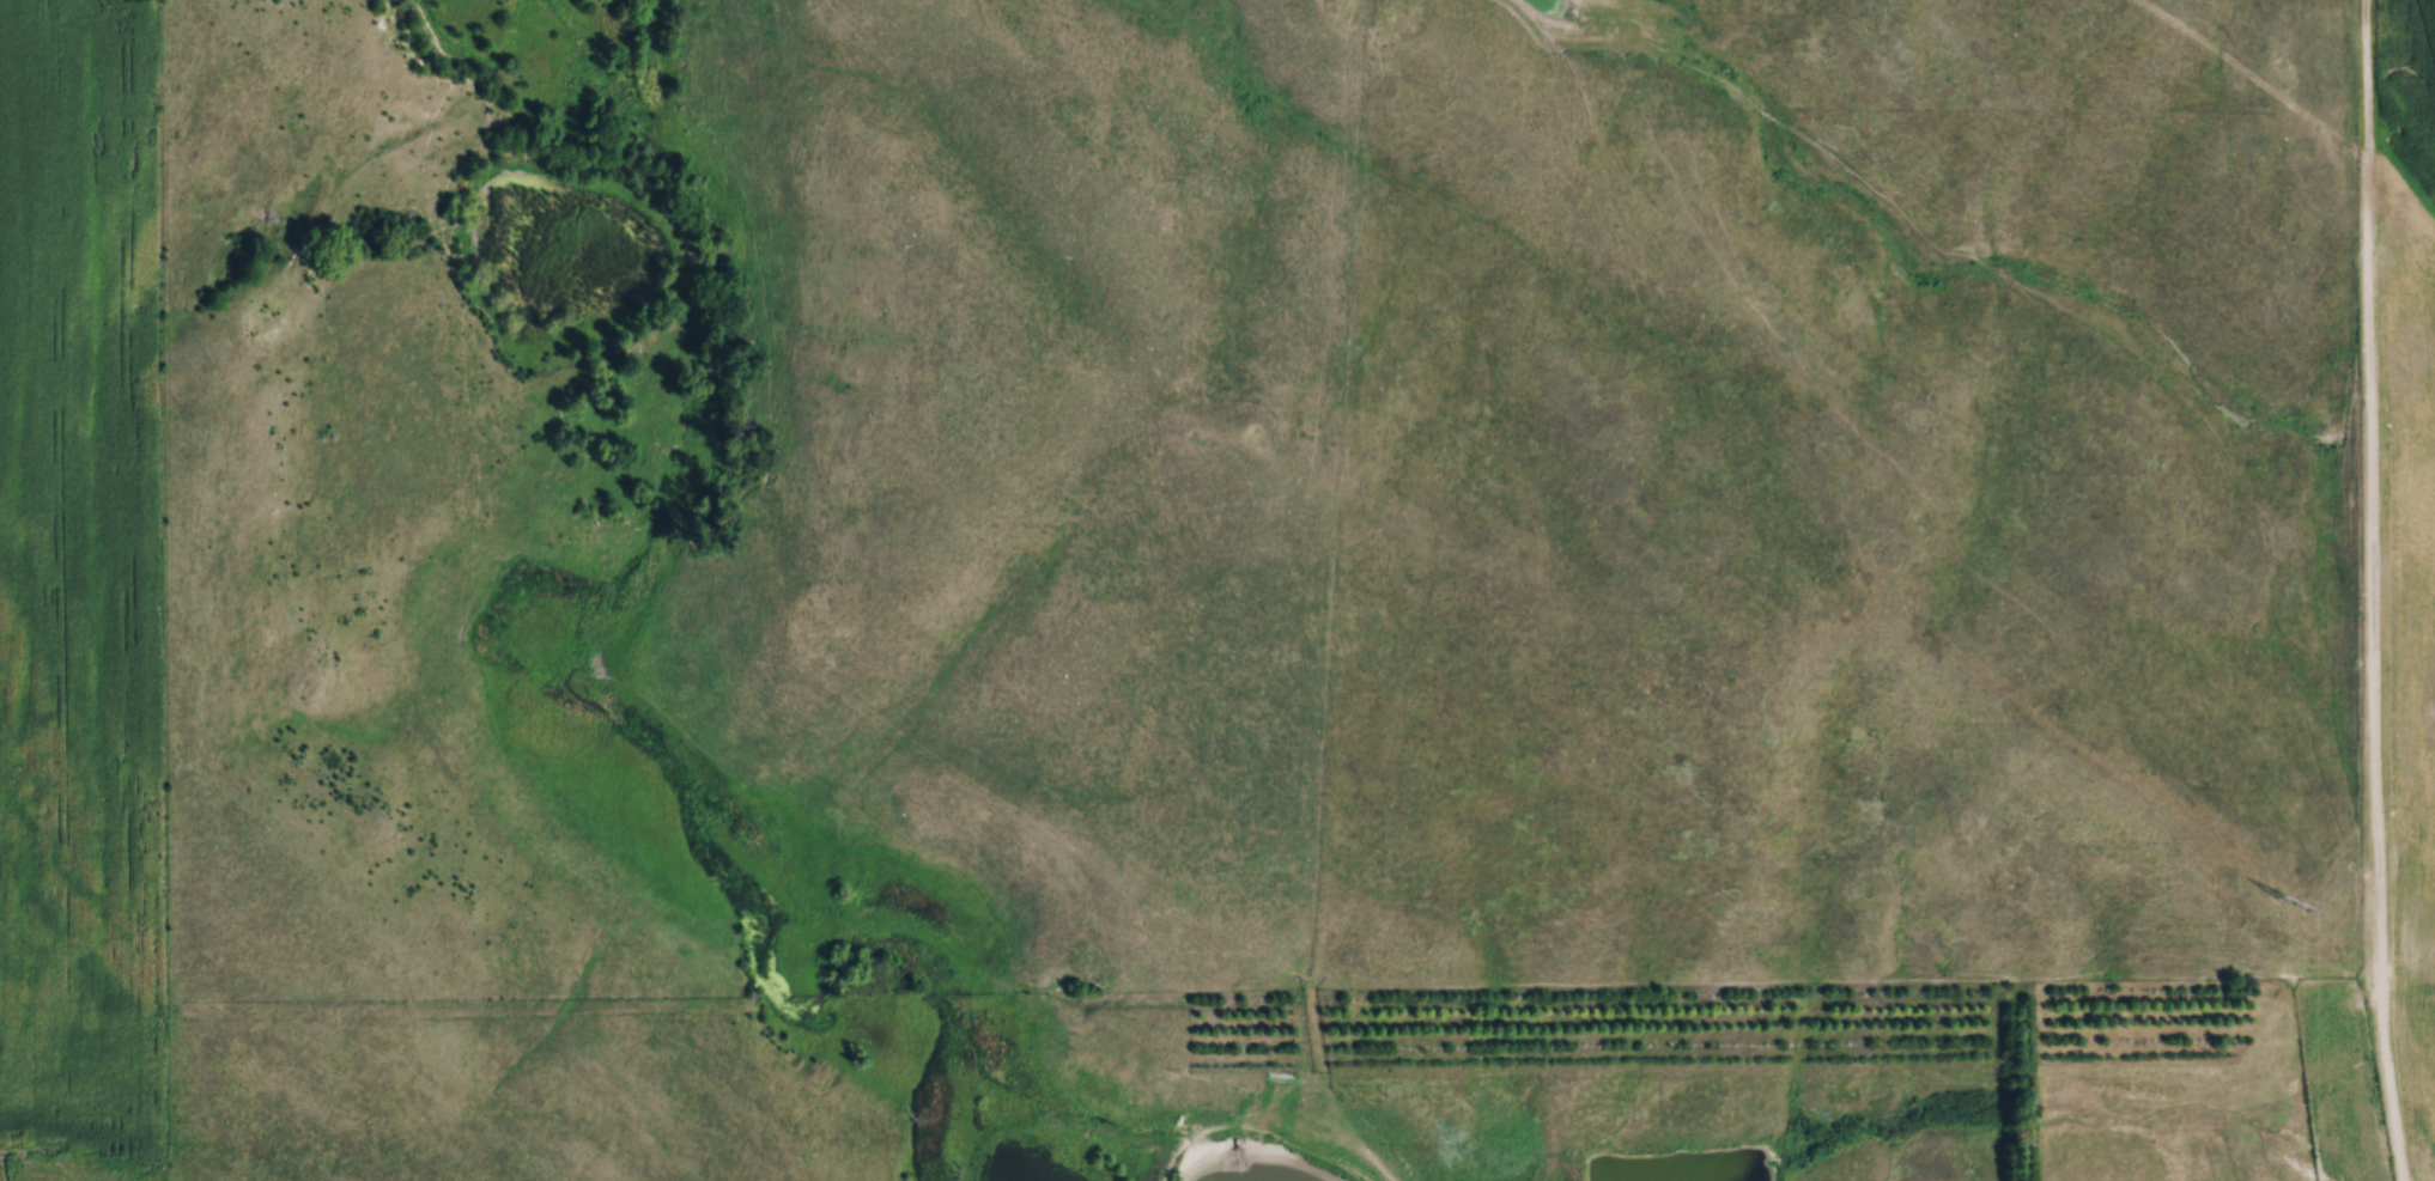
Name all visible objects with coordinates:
power tower: (2282, 901)

